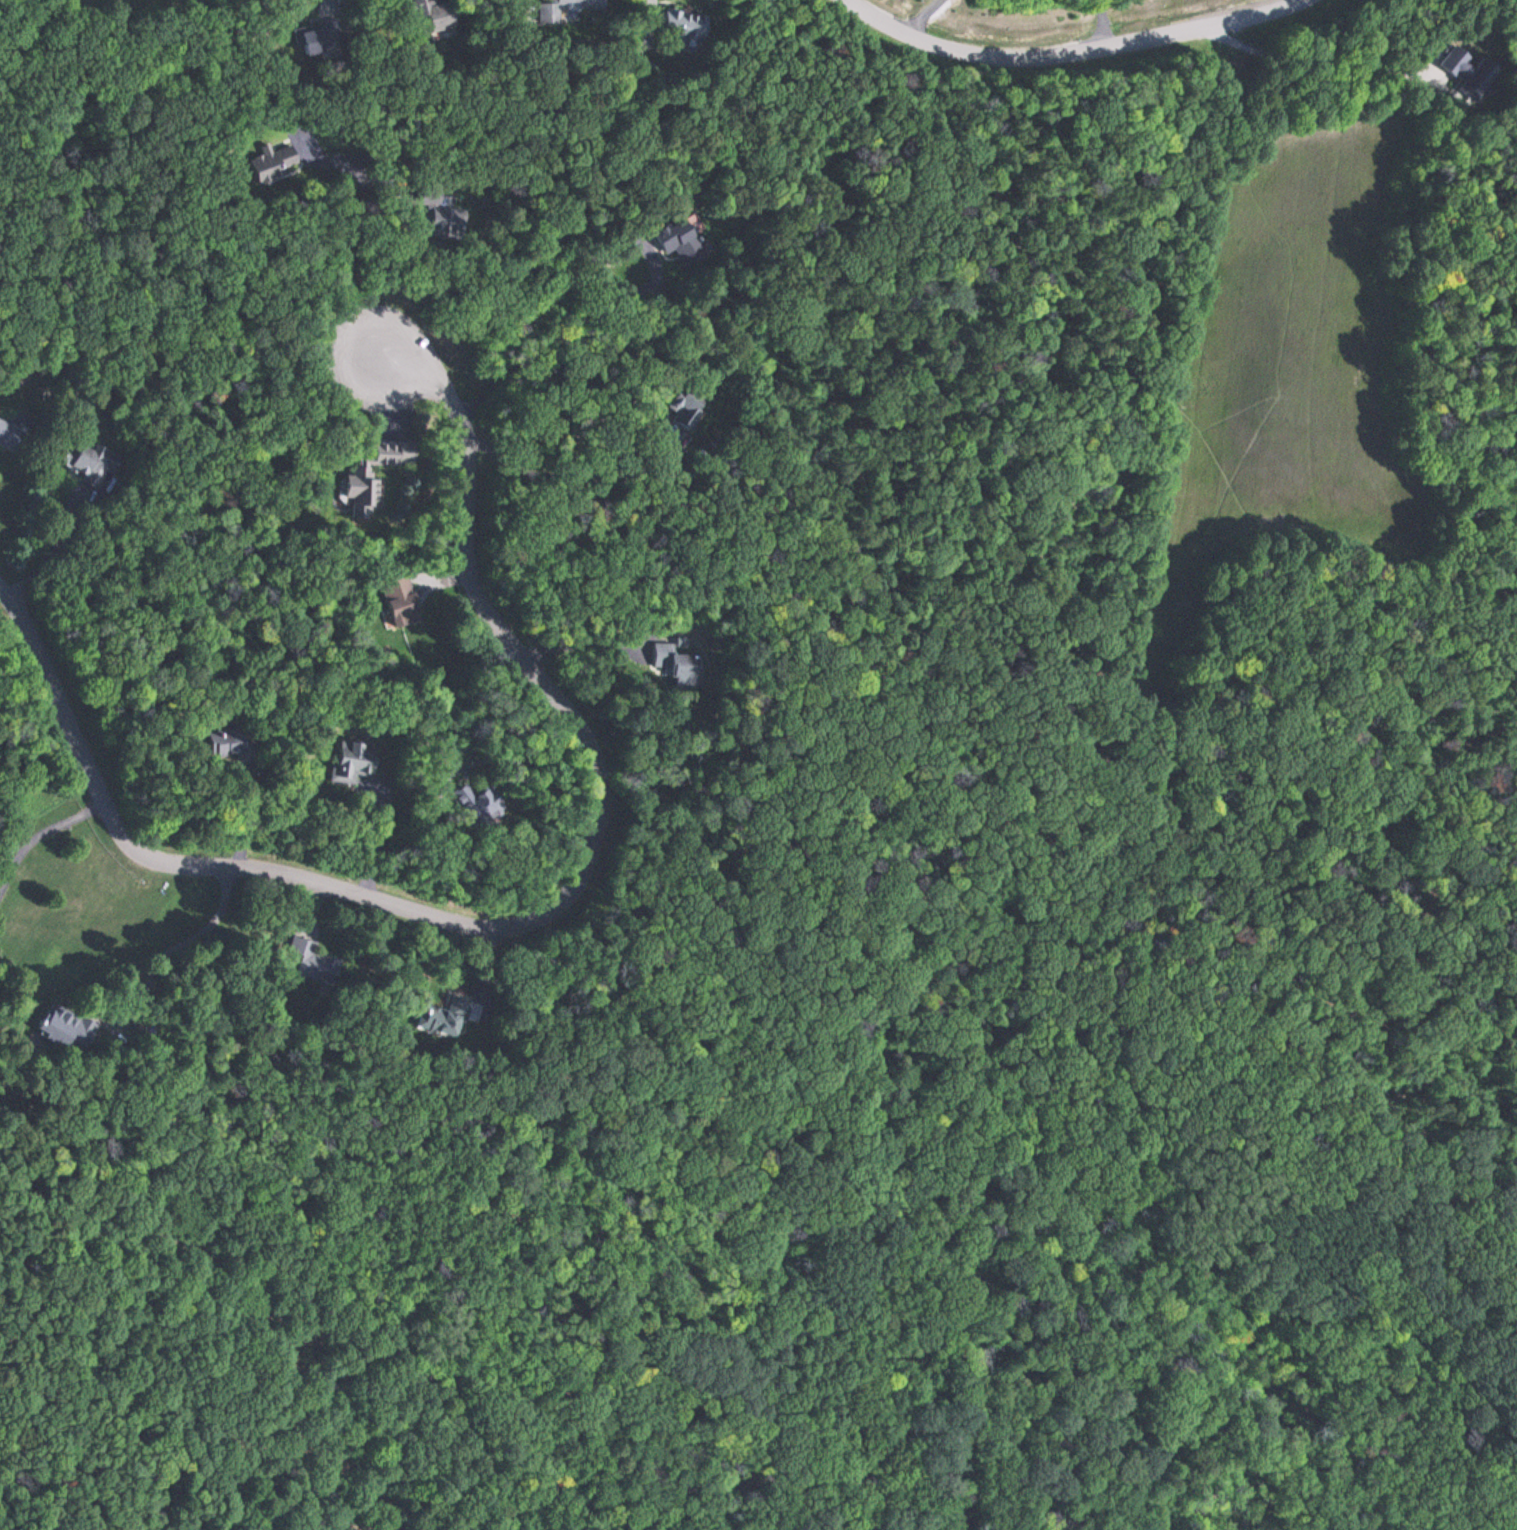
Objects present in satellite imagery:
building: (563, 9)
building: (431, 13)
building: (681, 24)
building: (314, 38)
road: (1077, 52)
building: (1461, 68)
building: (270, 162)
building: (437, 214)
building: (678, 242)
building: (684, 406)
building: (7, 436)
building: (87, 459)
building: (372, 476)
building: (398, 600)
building: (675, 665)
building: (229, 742)
building: (351, 763)
building: (473, 805)
road: (1342, 858)
road: (1089, 880)
road: (516, 921)
building: (313, 963)
road: (1459, 992)
building: (447, 1015)
building: (62, 1026)
road: (1125, 1351)

